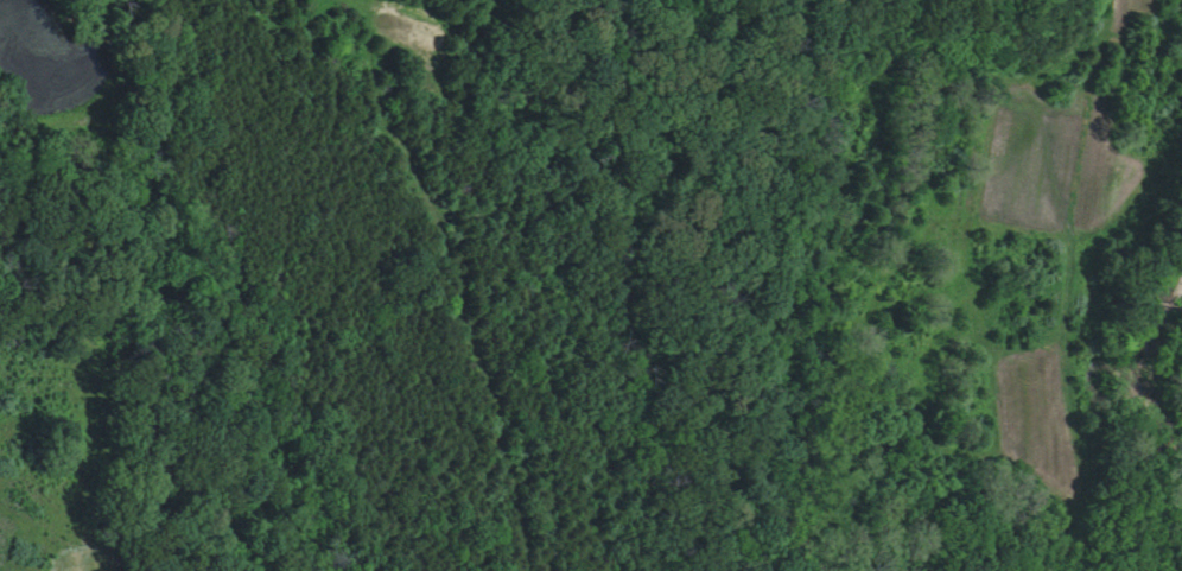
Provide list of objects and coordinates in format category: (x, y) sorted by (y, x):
river: (1123, 208)

